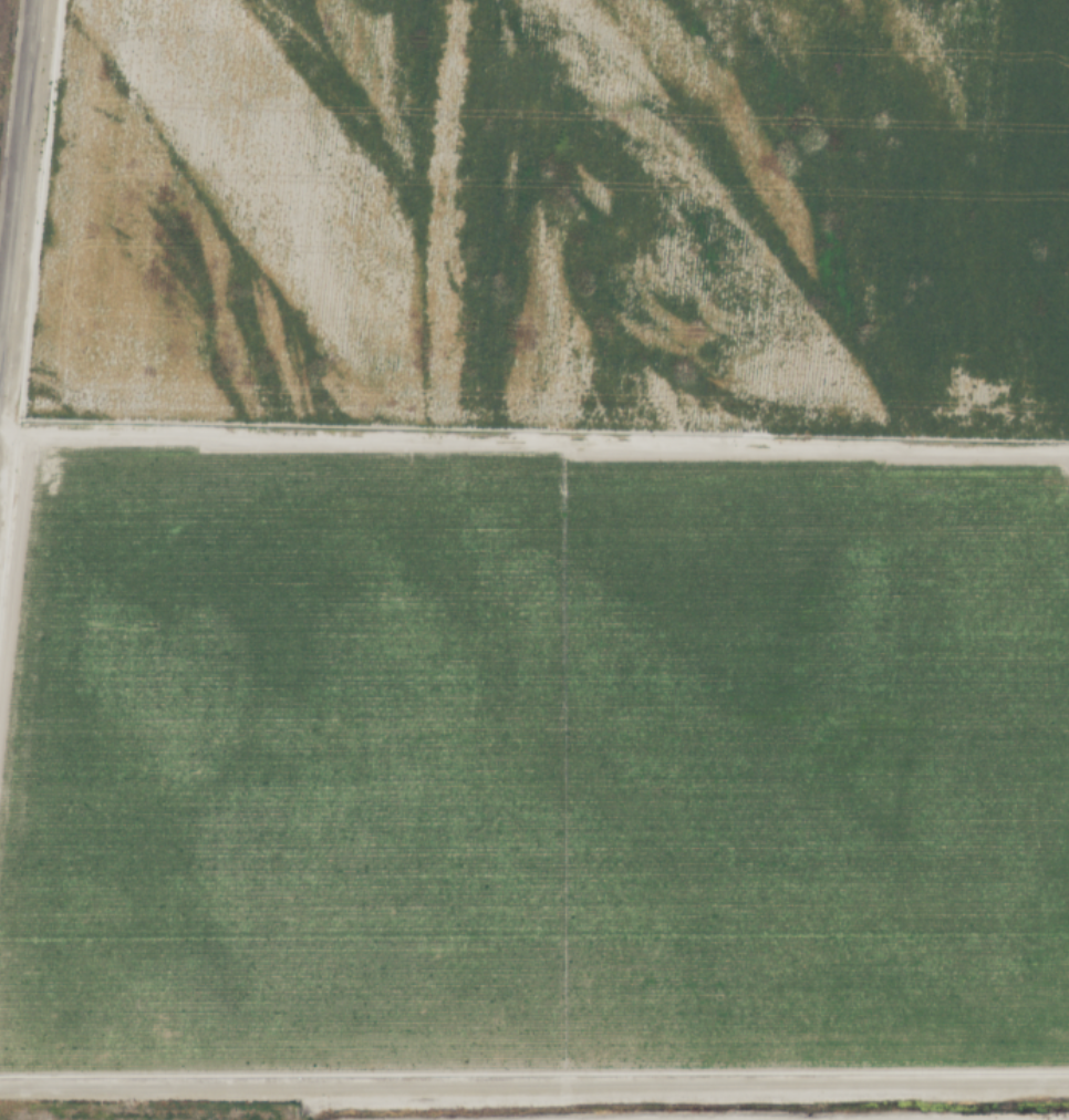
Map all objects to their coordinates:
road: (18, 173)
road: (534, 443)
road: (534, 1088)
road: (1038, 1119)

